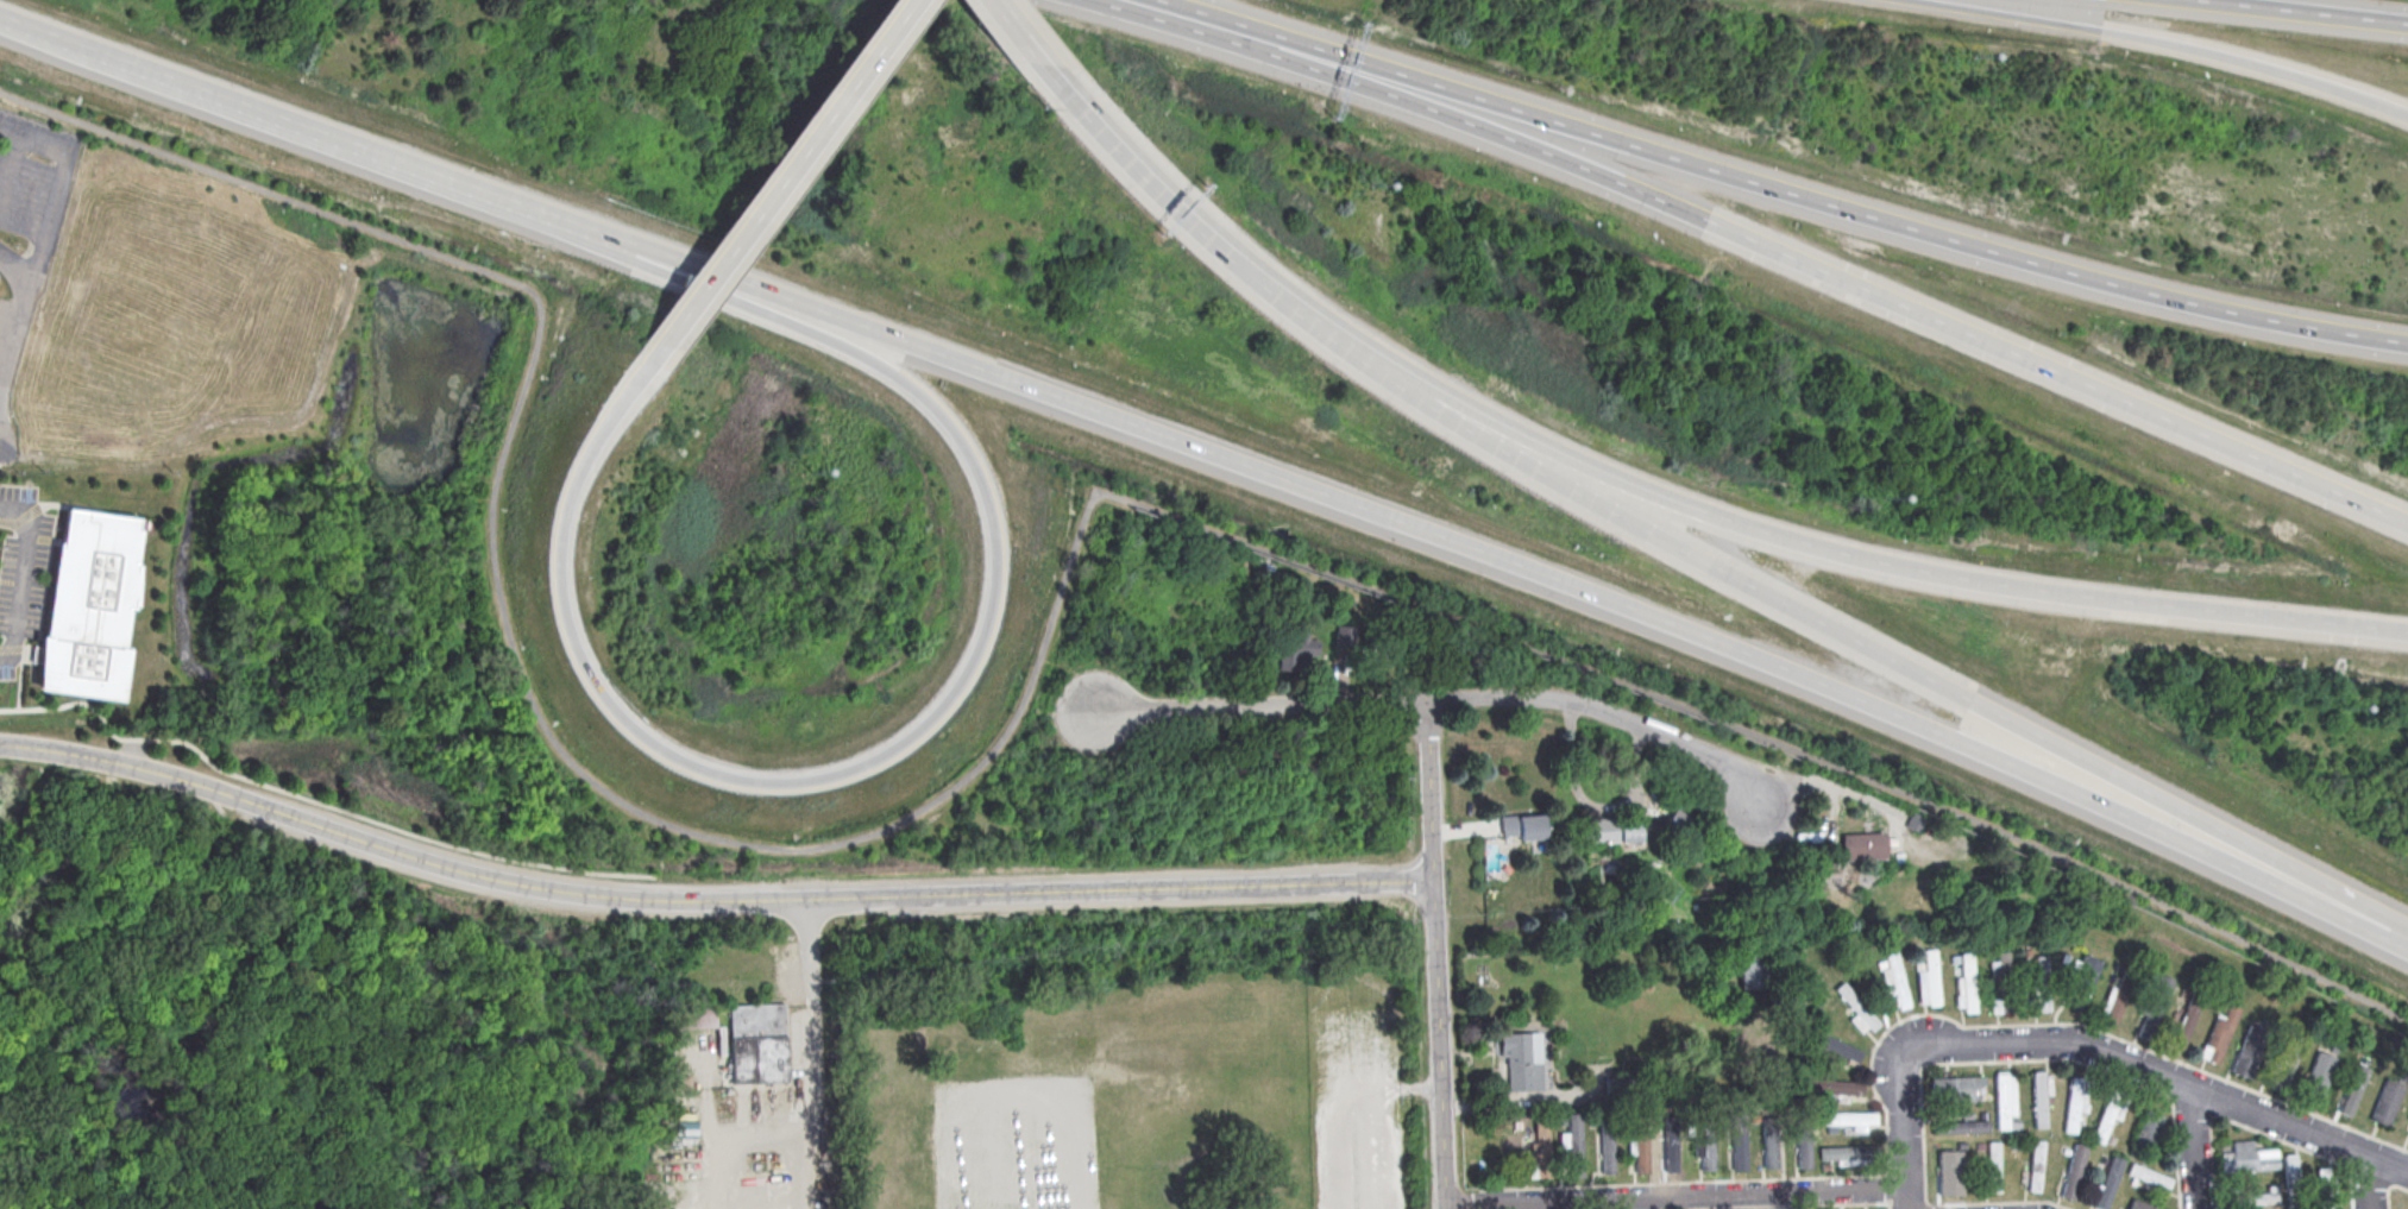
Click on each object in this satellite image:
road: (1174, 6)
road: (2308, 11)
road: (1203, 21)
road: (27, 25)
road: (1012, 31)
road: (2170, 42)
road: (1387, 69)
road: (308, 131)
road: (1115, 149)
road: (781, 171)
road: (10, 172)
road: (1948, 235)
road: (43, 239)
road: (15, 269)
road: (1844, 277)
road: (1296, 309)
road: (7, 449)
road: (1496, 555)
road: (1888, 561)
road: (24, 577)
building: (92, 607)
building: (1344, 635)
building: (1296, 651)
road: (1898, 660)
road: (1026, 687)
road: (1445, 699)
road: (929, 718)
road: (315, 800)
building: (1679, 825)
building: (1523, 827)
building: (1610, 832)
building: (1862, 845)
road: (705, 901)
road: (811, 951)
road: (1434, 955)
building: (1999, 963)
building: (1758, 966)
building: (1928, 978)
building: (1894, 981)
building: (2081, 981)
building: (2156, 997)
building: (1856, 1009)
building: (2183, 1024)
building: (2218, 1034)
building: (757, 1043)
building: (1836, 1046)
building: (2245, 1059)
building: (1527, 1062)
road: (2149, 1070)
road: (810, 1071)
building: (2316, 1076)
building: (1831, 1085)
building: (1957, 1087)
building: (1626, 1089)
building: (2352, 1089)
building: (2039, 1096)
building: (2003, 1098)
building: (2385, 1101)
building: (2075, 1102)
building: (2107, 1116)
building: (1848, 1119)
building: (2407, 1119)
building: (1959, 1126)
building: (2149, 1126)
building: (1739, 1139)
building: (1769, 1141)
road: (1903, 1142)
building: (1573, 1144)
building: (1804, 1145)
building: (1640, 1146)
road: (2192, 1147)
road: (742, 1148)
building: (1670, 1150)
building: (1704, 1150)
building: (1607, 1152)
building: (1841, 1153)
building: (2246, 1157)
building: (2035, 1165)
building: (1992, 1166)
building: (2071, 1171)
building: (1949, 1172)
road: (801, 1173)
building: (2148, 1175)
building: (2106, 1182)
road: (2370, 1182)
road: (1674, 1196)
building: (2249, 1198)
building: (2140, 1204)

